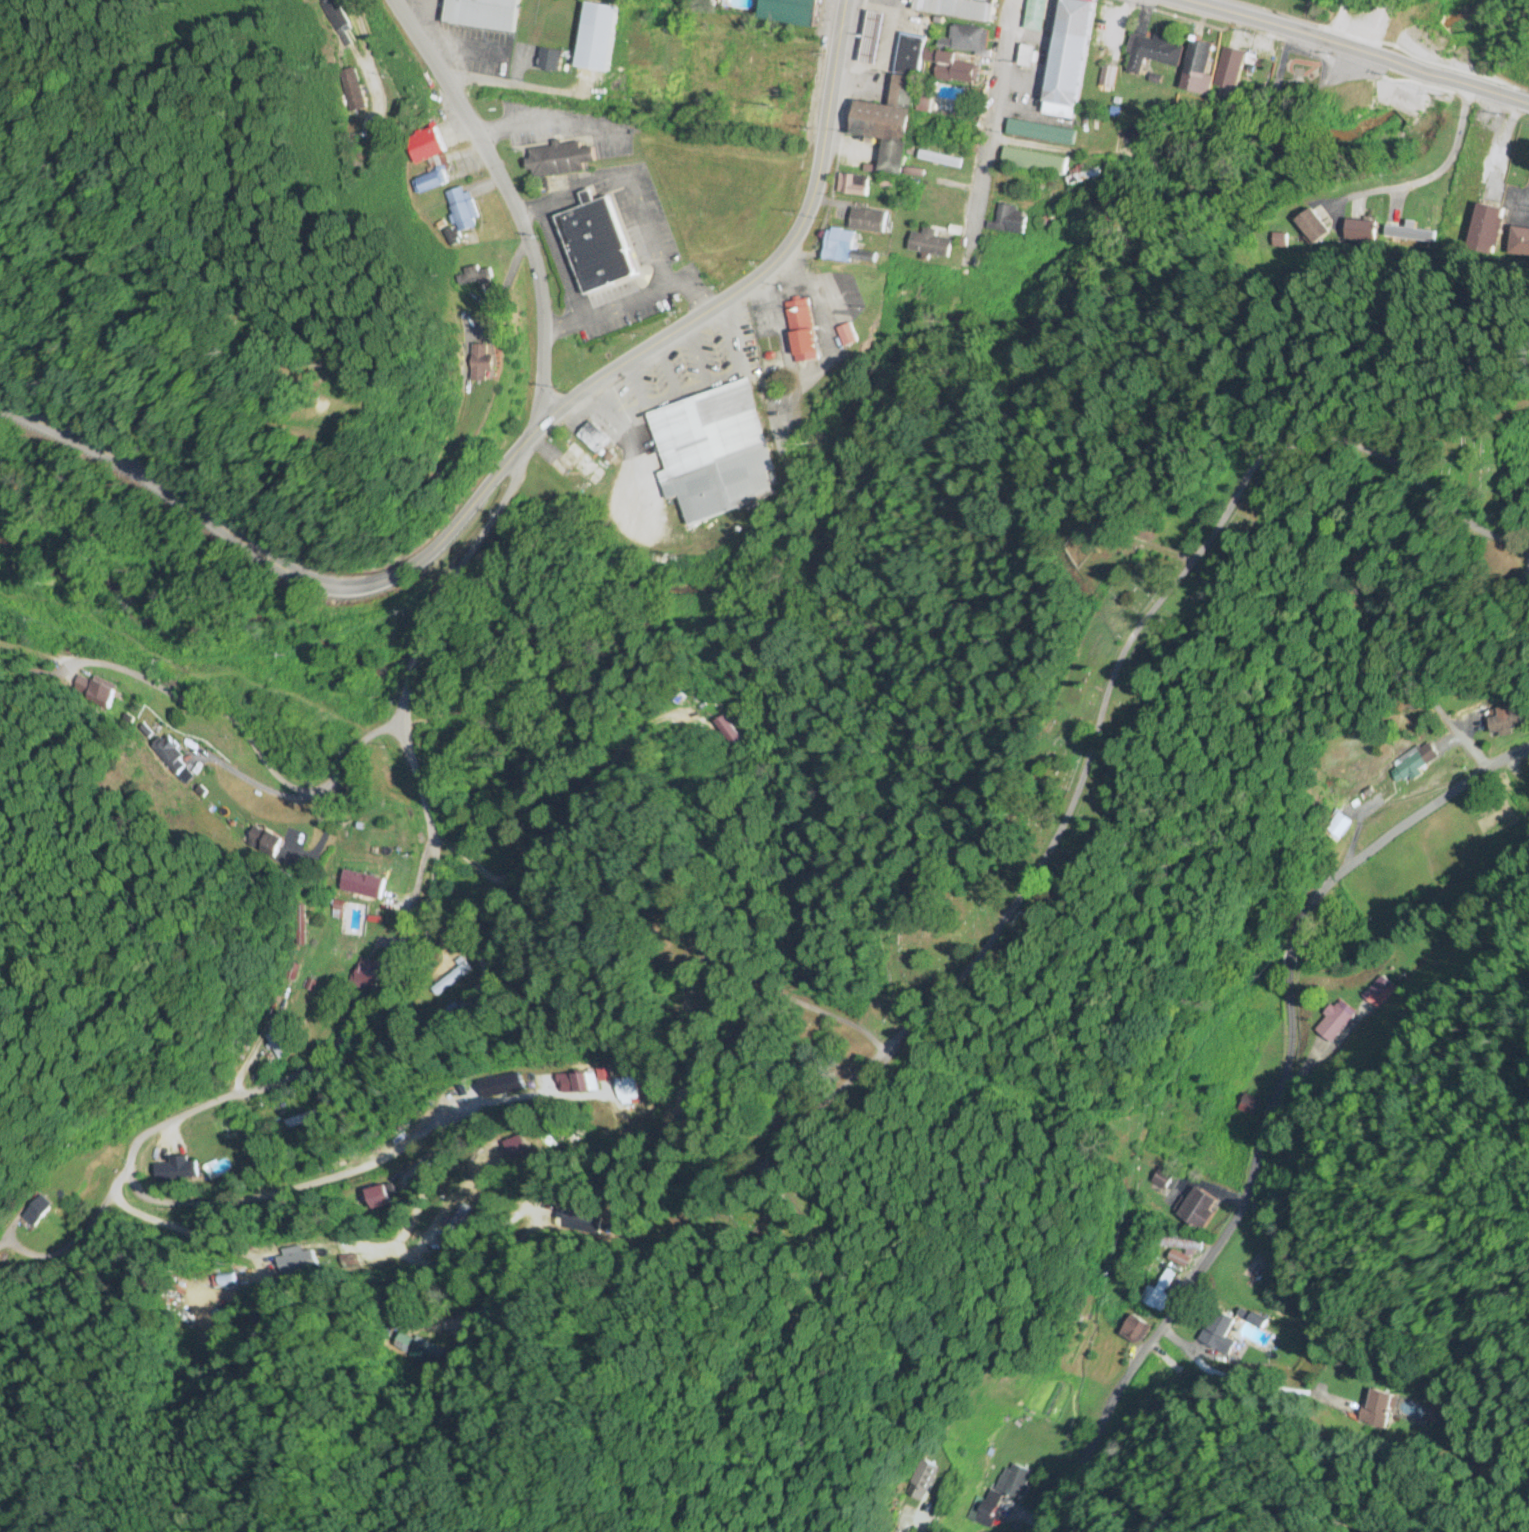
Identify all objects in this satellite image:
building: (956, 8)
building: (791, 11)
building: (482, 14)
building: (1035, 15)
building: (871, 39)
gas station: (871, 39)
building: (964, 40)
road: (1358, 51)
building: (1151, 54)
building: (909, 56)
building: (1025, 57)
building: (1067, 59)
building: (549, 61)
building: (1196, 65)
building: (949, 67)
building: (1225, 67)
building: (745, 75)
building: (1106, 77)
road: (991, 123)
building: (1039, 132)
building: (955, 134)
road: (1037, 147)
building: (428, 161)
building: (558, 161)
building: (1033, 161)
building: (359, 164)
road: (1437, 172)
building: (852, 186)
road: (507, 203)
building: (461, 210)
building: (867, 221)
building: (1010, 221)
building: (1487, 223)
building: (1311, 227)
building: (1361, 232)
building: (475, 239)
building: (1518, 244)
building: (929, 245)
building: (595, 247)
building: (844, 249)
building: (800, 332)
building: (477, 364)
road: (357, 386)
building: (595, 439)
building: (719, 451)
road: (514, 456)
building: (573, 464)
road: (1227, 512)
road: (452, 576)
building: (1506, 726)
road: (244, 735)
building: (1413, 764)
building: (1335, 828)
building: (465, 883)
building: (452, 980)
building: (1378, 993)
road: (373, 1003)
building: (1333, 1020)
building: (270, 1044)
building: (501, 1085)
building: (626, 1089)
building: (1245, 1108)
road: (1267, 1110)
building: (425, 1116)
building: (295, 1122)
building: (518, 1147)
building: (169, 1171)
road: (284, 1191)
building: (377, 1198)
building: (1194, 1209)
building: (1179, 1260)
building: (296, 1262)
building: (227, 1282)
building: (1158, 1292)
building: (1132, 1332)
building: (1221, 1333)
building: (1377, 1408)
building: (921, 1480)
building: (1015, 1482)

